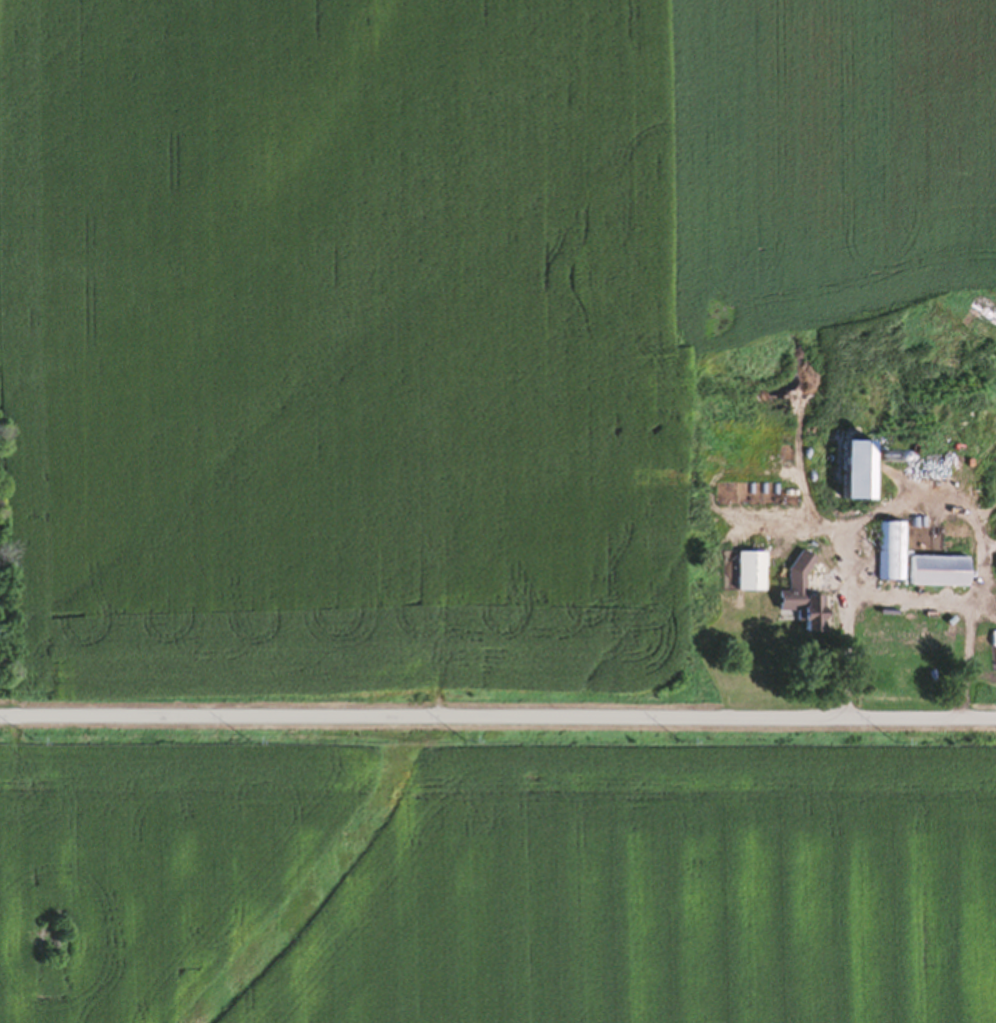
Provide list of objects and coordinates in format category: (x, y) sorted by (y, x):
building: (963, 422)
building: (843, 439)
road: (917, 507)
building: (780, 520)
building: (753, 541)
building: (887, 553)
building: (935, 568)
building: (745, 574)
building: (800, 600)
road: (498, 717)

